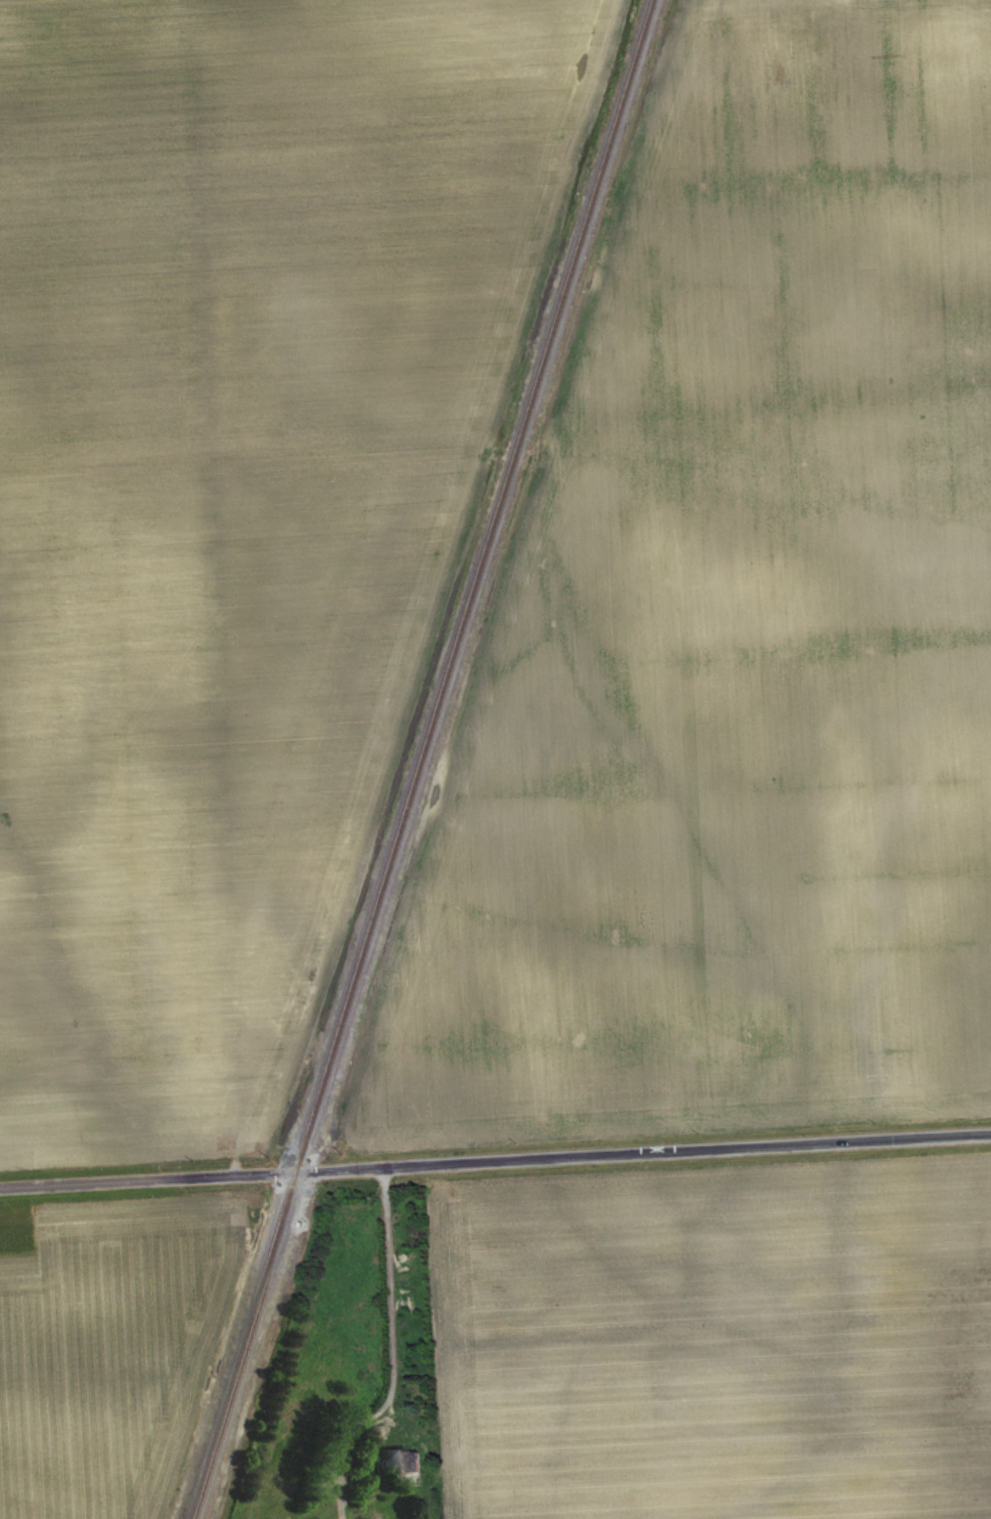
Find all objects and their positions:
railway: (423, 759)
road: (495, 1166)
road: (397, 1334)
building: (404, 1470)

